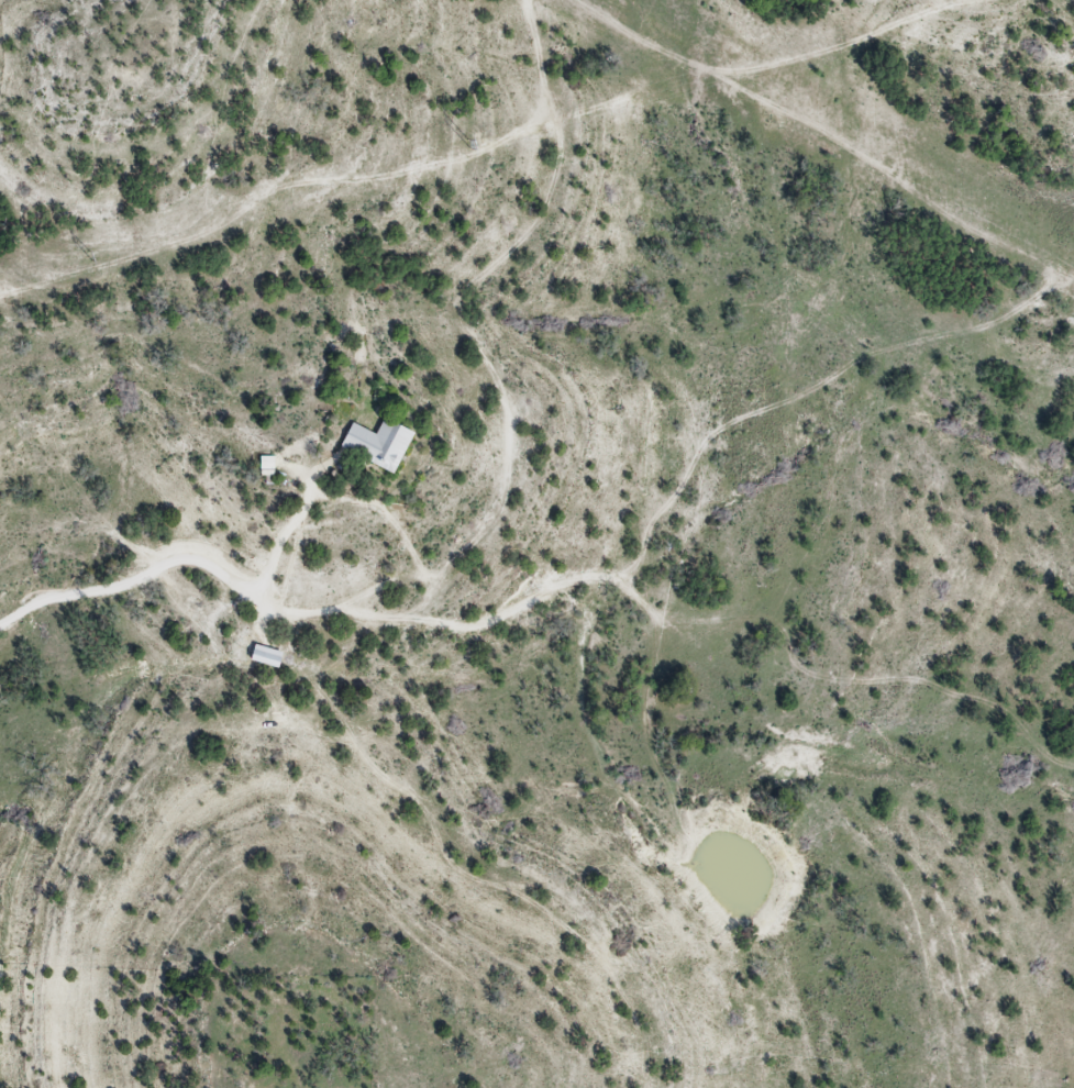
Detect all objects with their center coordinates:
power tower: (464, 143)
power tower: (90, 253)
building: (378, 443)
road: (140, 580)

